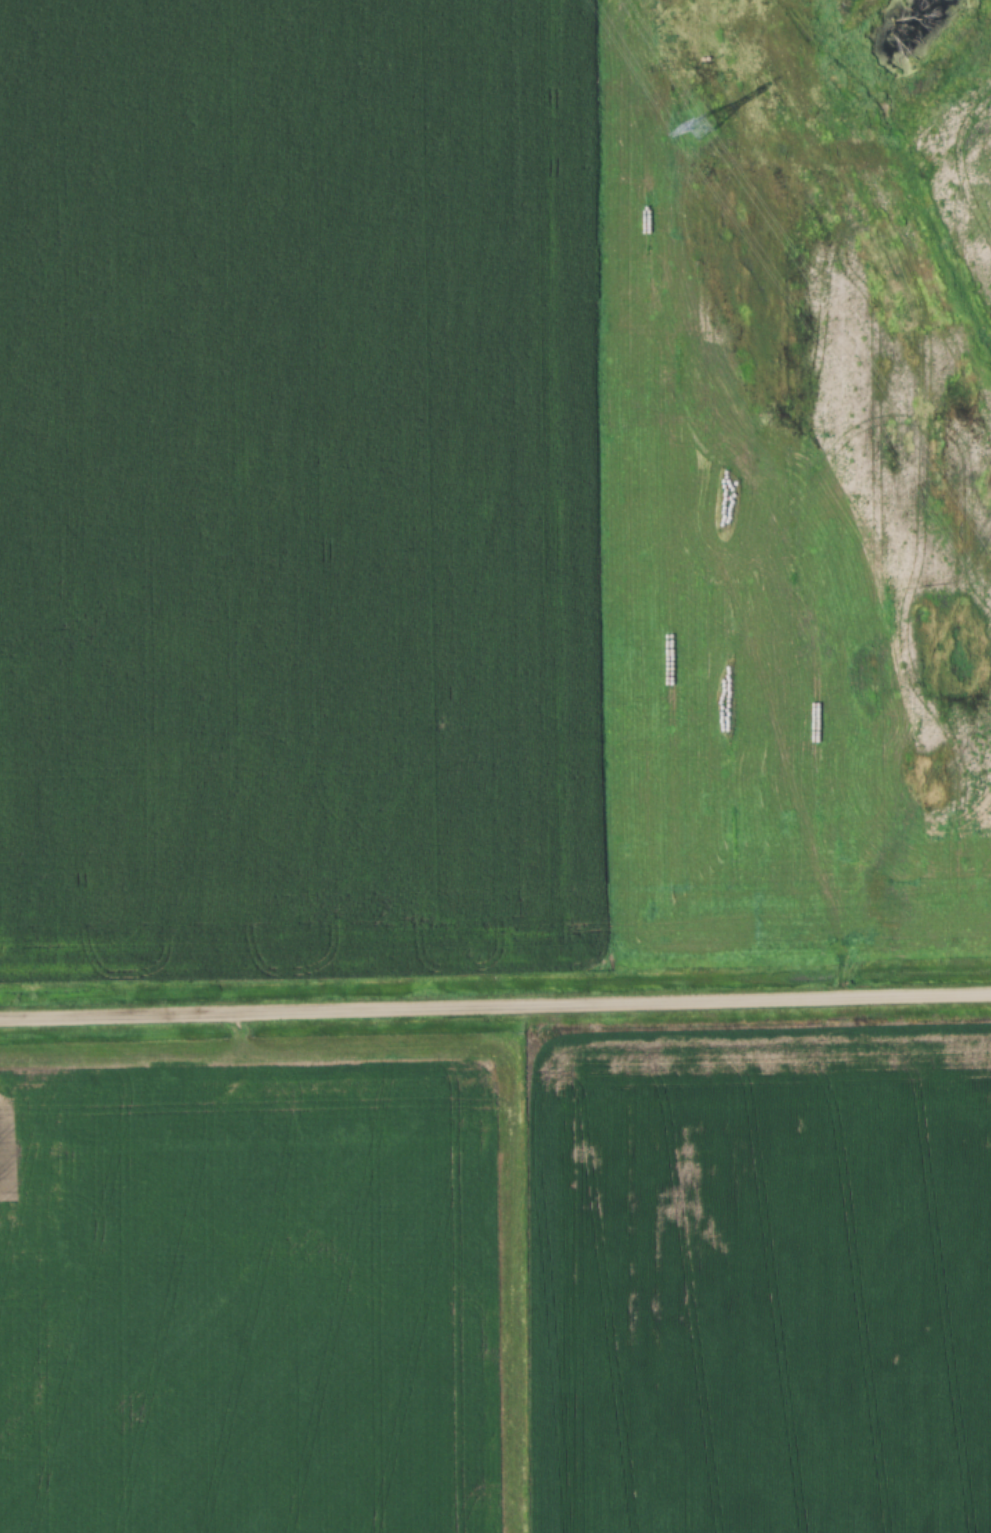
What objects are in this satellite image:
power tower: (698, 126)
road: (495, 1009)

